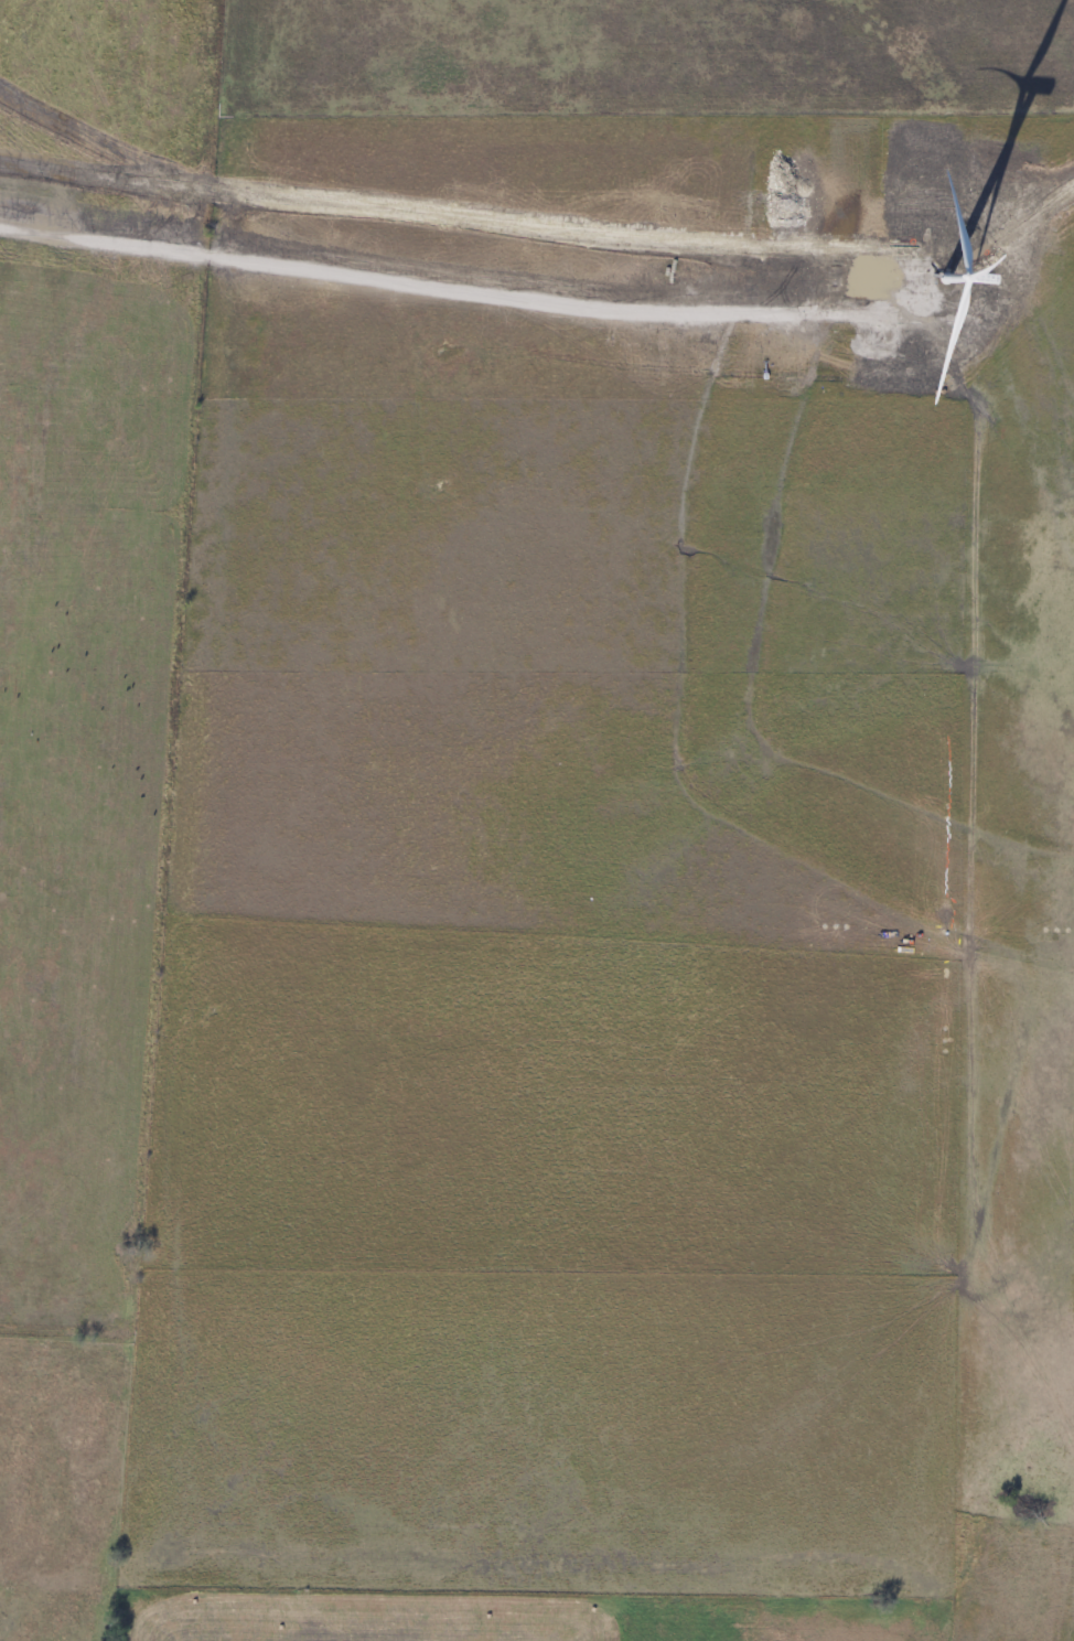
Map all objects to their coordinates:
wind turbine: (937, 285)

